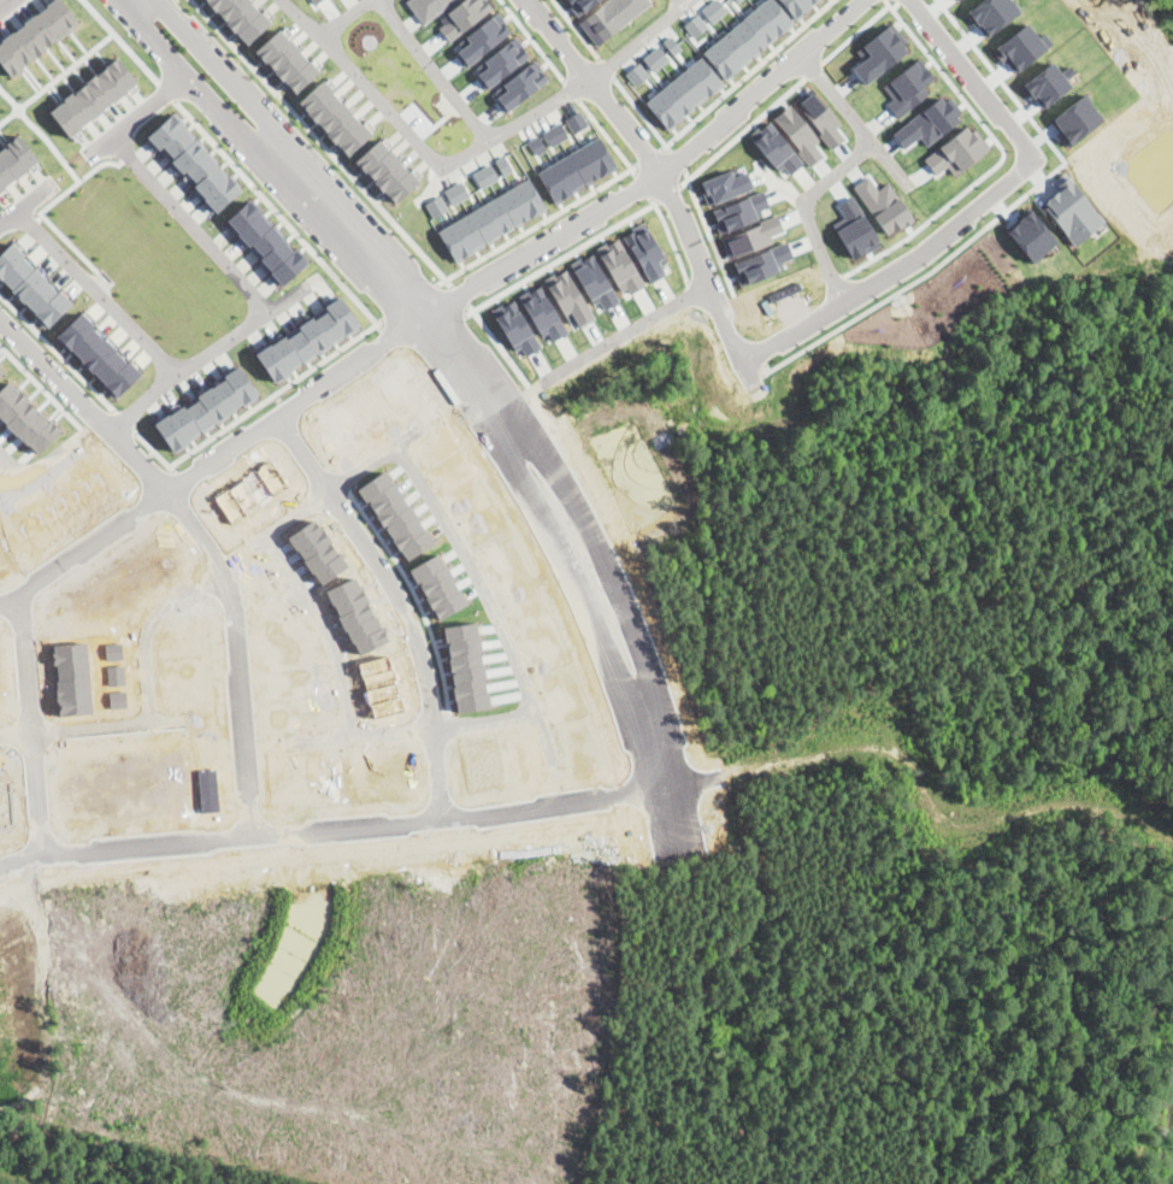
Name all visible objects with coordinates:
road: (554, 0)
building: (737, 0)
building: (737, 0)
road: (1, 1)
building: (314, 1)
road: (685, 1)
road: (4, 2)
road: (129, 2)
building: (579, 5)
building: (798, 6)
building: (429, 7)
building: (713, 10)
building: (994, 12)
road: (99, 16)
building: (462, 16)
building: (242, 17)
building: (611, 17)
road: (302, 18)
building: (696, 25)
building: (35, 35)
road: (638, 36)
building: (482, 37)
building: (747, 39)
road: (585, 41)
building: (1022, 46)
road: (166, 48)
road: (543, 53)
building: (879, 53)
building: (285, 60)
building: (501, 60)
road: (434, 71)
road: (57, 76)
road: (972, 78)
building: (908, 79)
building: (519, 86)
road: (572, 89)
building: (684, 93)
building: (93, 96)
road: (136, 111)
building: (335, 117)
building: (577, 122)
building: (926, 123)
building: (555, 132)
road: (607, 136)
road: (322, 142)
road: (420, 145)
building: (537, 145)
building: (774, 147)
road: (723, 148)
road: (54, 152)
building: (955, 152)
building: (13, 159)
building: (193, 161)
road: (890, 161)
building: (503, 164)
road: (843, 167)
road: (656, 169)
building: (577, 170)
building: (387, 171)
road: (244, 176)
building: (485, 176)
road: (647, 179)
building: (725, 185)
road: (668, 192)
building: (455, 193)
road: (342, 196)
road: (33, 198)
building: (883, 204)
road: (699, 205)
building: (436, 206)
building: (1072, 208)
road: (312, 211)
building: (739, 211)
road: (8, 218)
building: (491, 220)
building: (855, 228)
road: (57, 229)
road: (521, 232)
building: (264, 238)
road: (670, 238)
building: (646, 251)
road: (561, 258)
building: (762, 263)
building: (619, 265)
road: (896, 271)
building: (594, 281)
building: (30, 284)
road: (249, 291)
road: (96, 293)
road: (459, 295)
building: (568, 298)
building: (543, 313)
road: (379, 324)
building: (515, 328)
building: (307, 338)
road: (499, 344)
road: (607, 346)
building: (98, 353)
road: (84, 378)
road: (272, 394)
building: (205, 408)
road: (5, 455)
road: (208, 465)
road: (335, 487)
road: (210, 535)
road: (548, 547)
road: (487, 597)
road: (397, 599)
road: (324, 630)
road: (152, 689)
road: (36, 721)
road: (414, 732)
road: (320, 821)
park: (1160, 1162)

